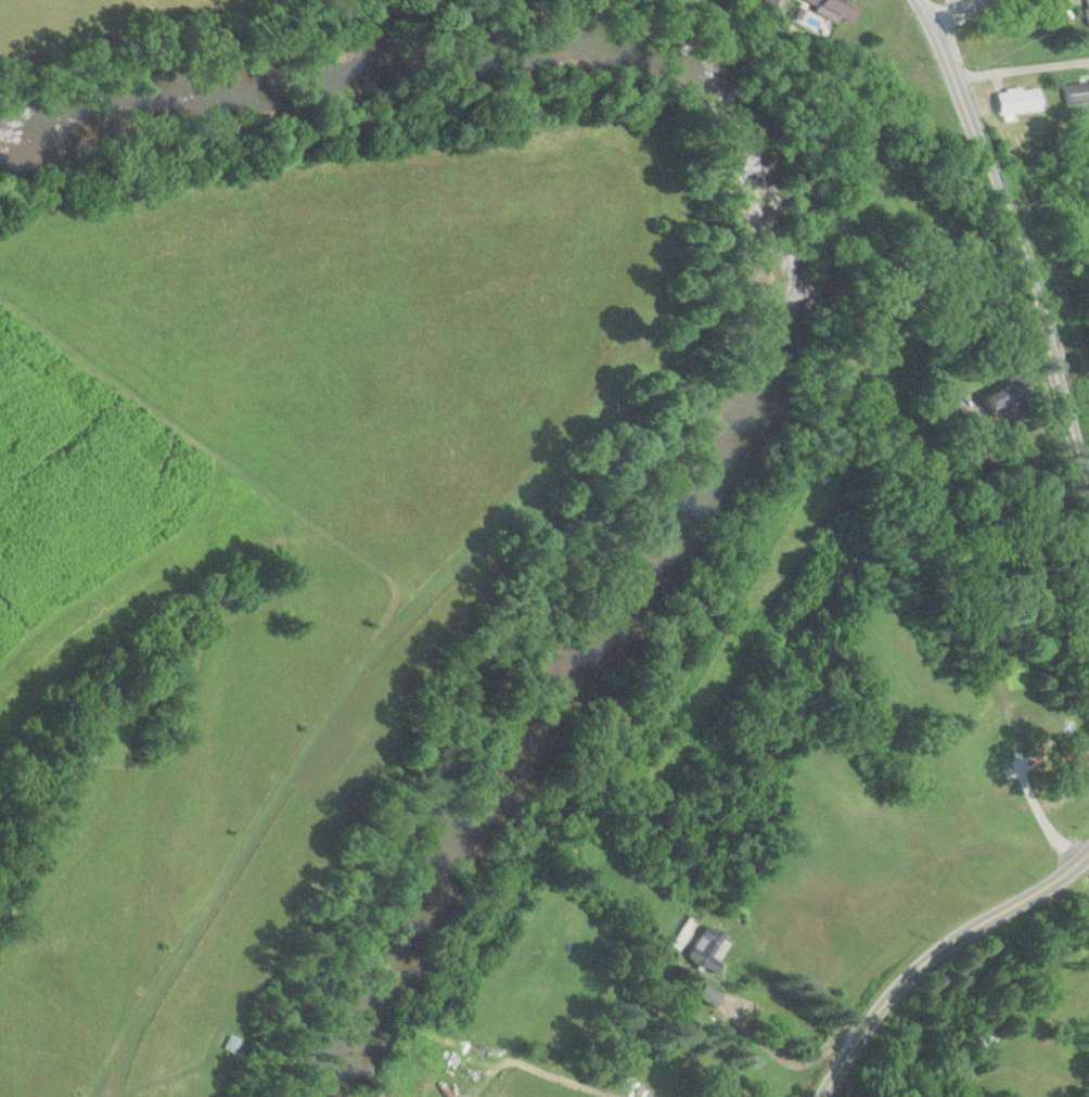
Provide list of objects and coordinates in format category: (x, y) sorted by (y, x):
road: (960, 4)
building: (772, 5)
building: (1087, 5)
building: (834, 9)
road: (957, 11)
road: (1020, 68)
building: (1077, 91)
building: (1020, 100)
road: (1010, 246)
river: (780, 273)
building: (1003, 398)
building: (1081, 756)
building: (707, 951)
road: (935, 952)
building: (991, 1038)
building: (232, 1043)
road: (1014, 1074)
building: (675, 1096)

